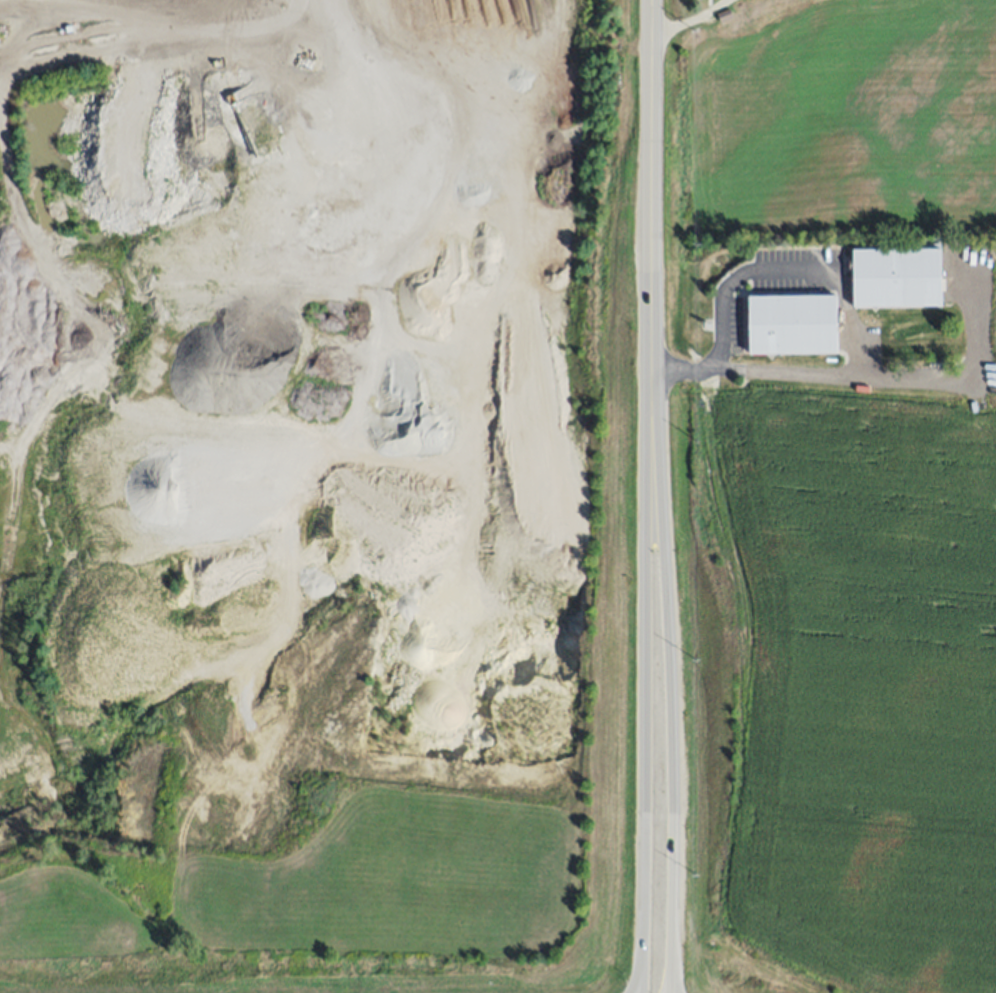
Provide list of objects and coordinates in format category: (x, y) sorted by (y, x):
building: (724, 15)
road: (687, 17)
road: (157, 36)
road: (652, 248)
road: (830, 272)
building: (897, 277)
building: (792, 323)
quarry: (291, 376)
road: (670, 744)
road: (646, 745)
crop: (402, 791)

